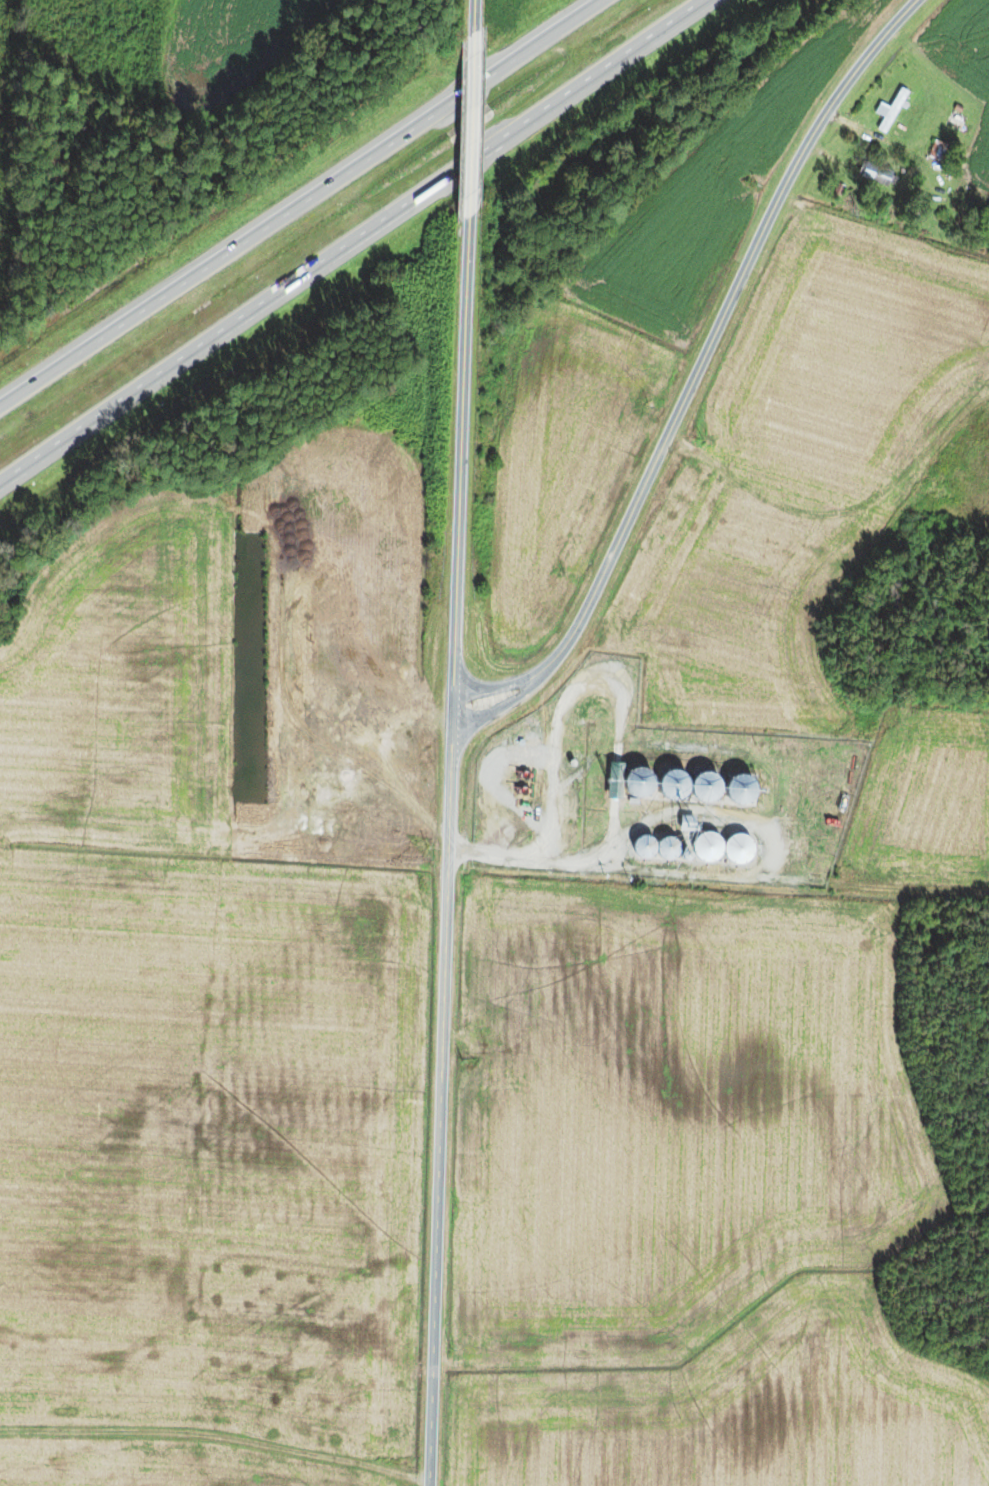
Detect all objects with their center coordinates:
road: (472, 18)
building: (889, 111)
building: (954, 121)
road: (468, 133)
building: (937, 150)
building: (874, 174)
road: (313, 209)
road: (357, 242)
road: (697, 369)
road: (501, 705)
building: (702, 786)
building: (660, 840)
building: (641, 845)
building: (720, 848)
road: (451, 857)
road: (227, 1468)

